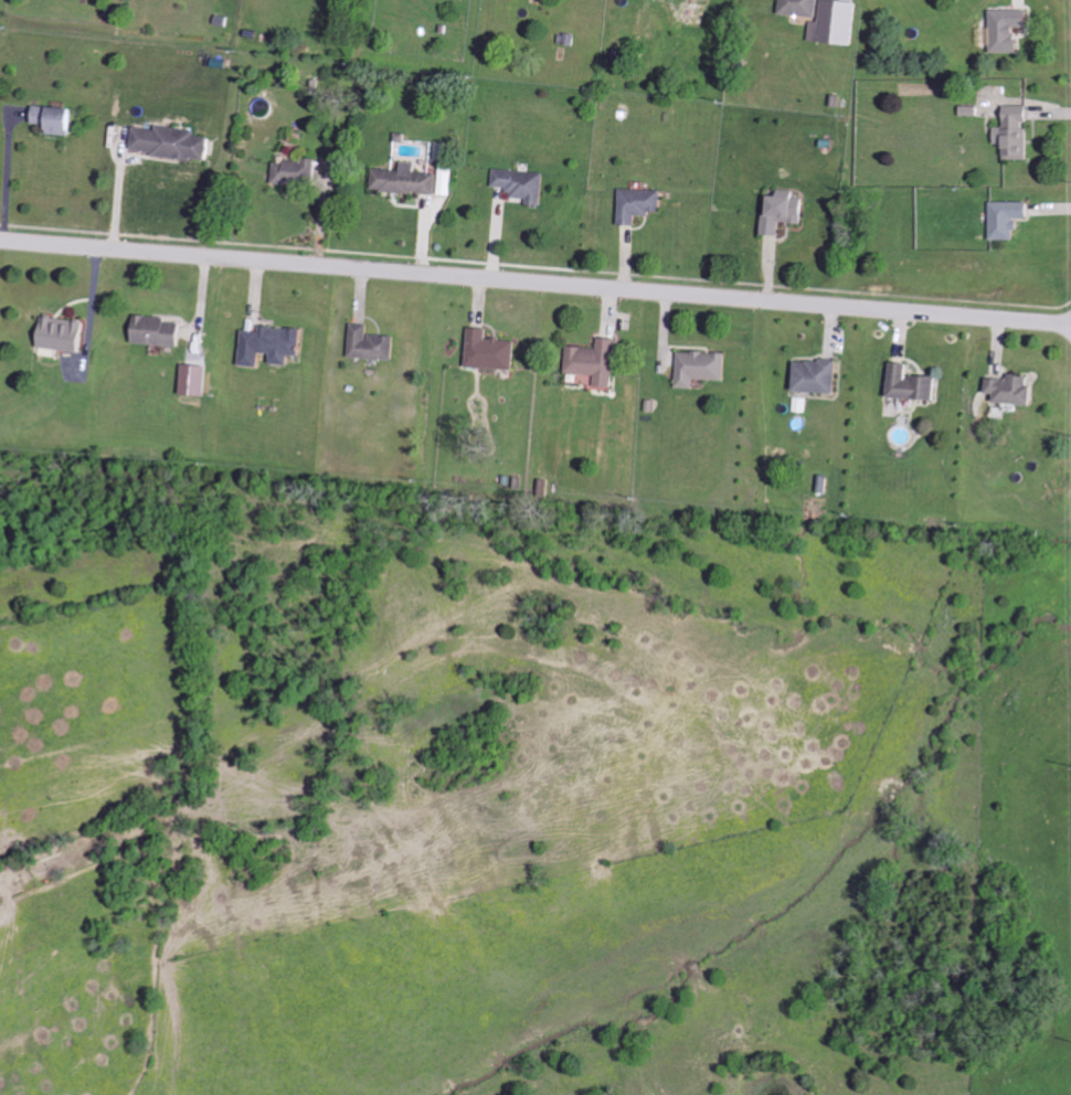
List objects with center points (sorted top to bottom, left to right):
building: (804, 8)
building: (839, 24)
building: (1011, 30)
building: (62, 118)
building: (1019, 132)
building: (179, 142)
building: (299, 172)
road: (8, 179)
building: (417, 180)
building: (527, 184)
building: (641, 204)
building: (789, 212)
building: (1012, 220)
road: (535, 281)
building: (159, 331)
building: (67, 333)
building: (373, 343)
building: (275, 344)
building: (494, 350)
building: (600, 361)
building: (703, 368)
building: (821, 376)
building: (918, 384)
building: (1017, 390)

